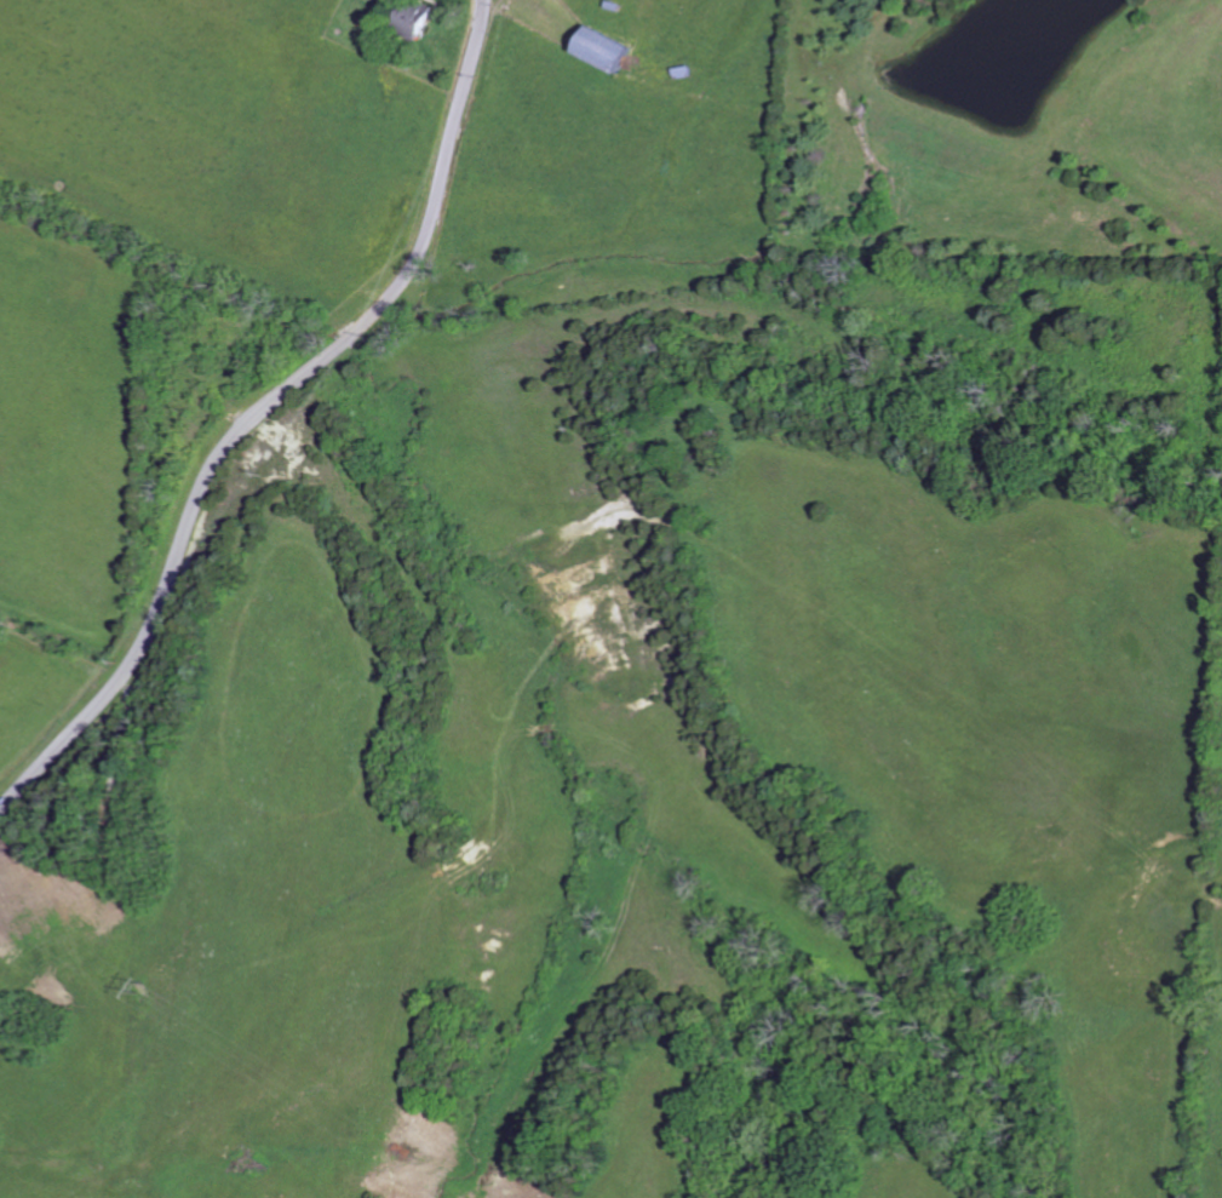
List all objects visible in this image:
building: (420, 18)
building: (615, 51)
road: (264, 408)

